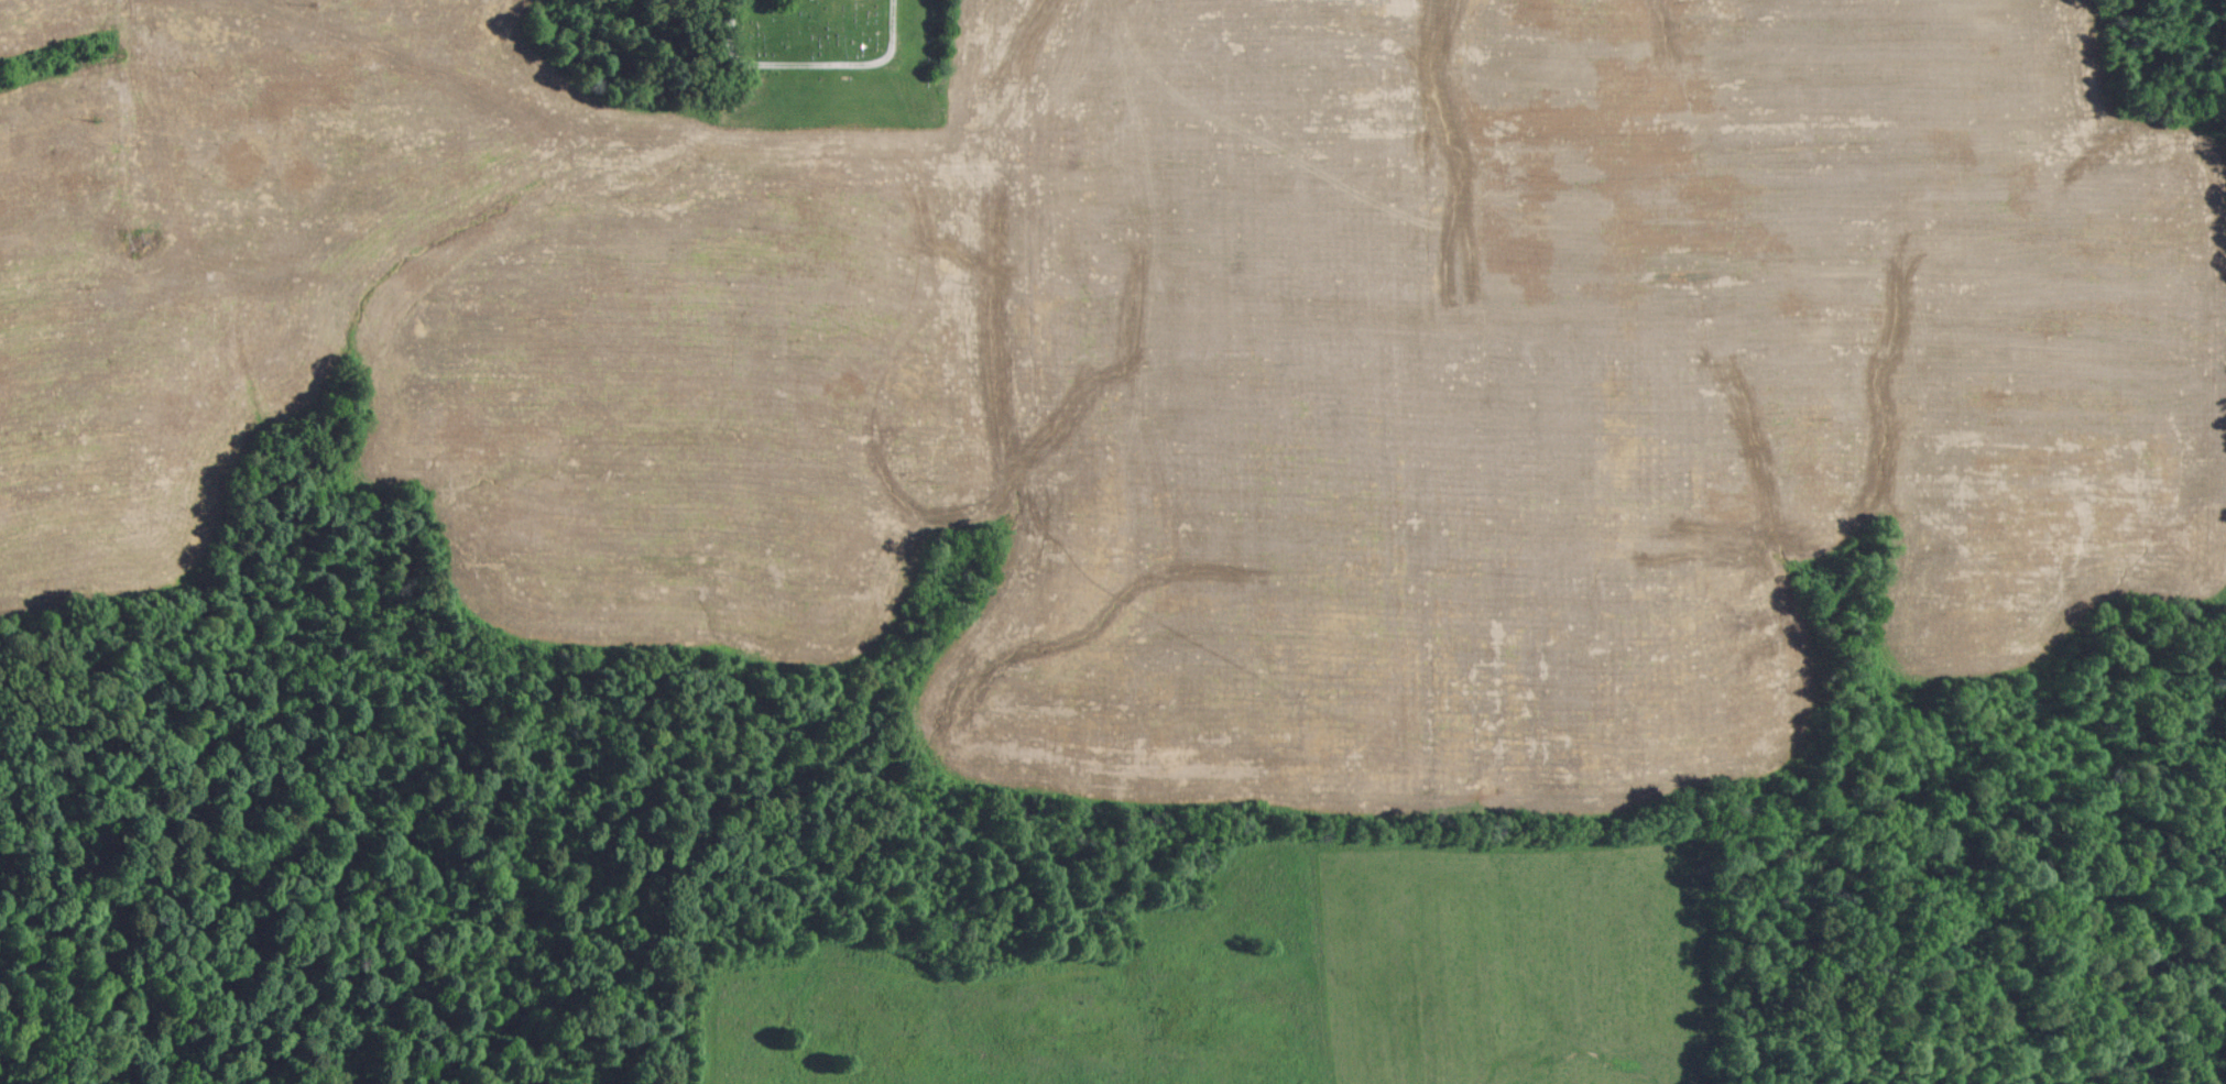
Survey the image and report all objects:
park: (832, 62)
road: (809, 65)
building: (128, 241)

